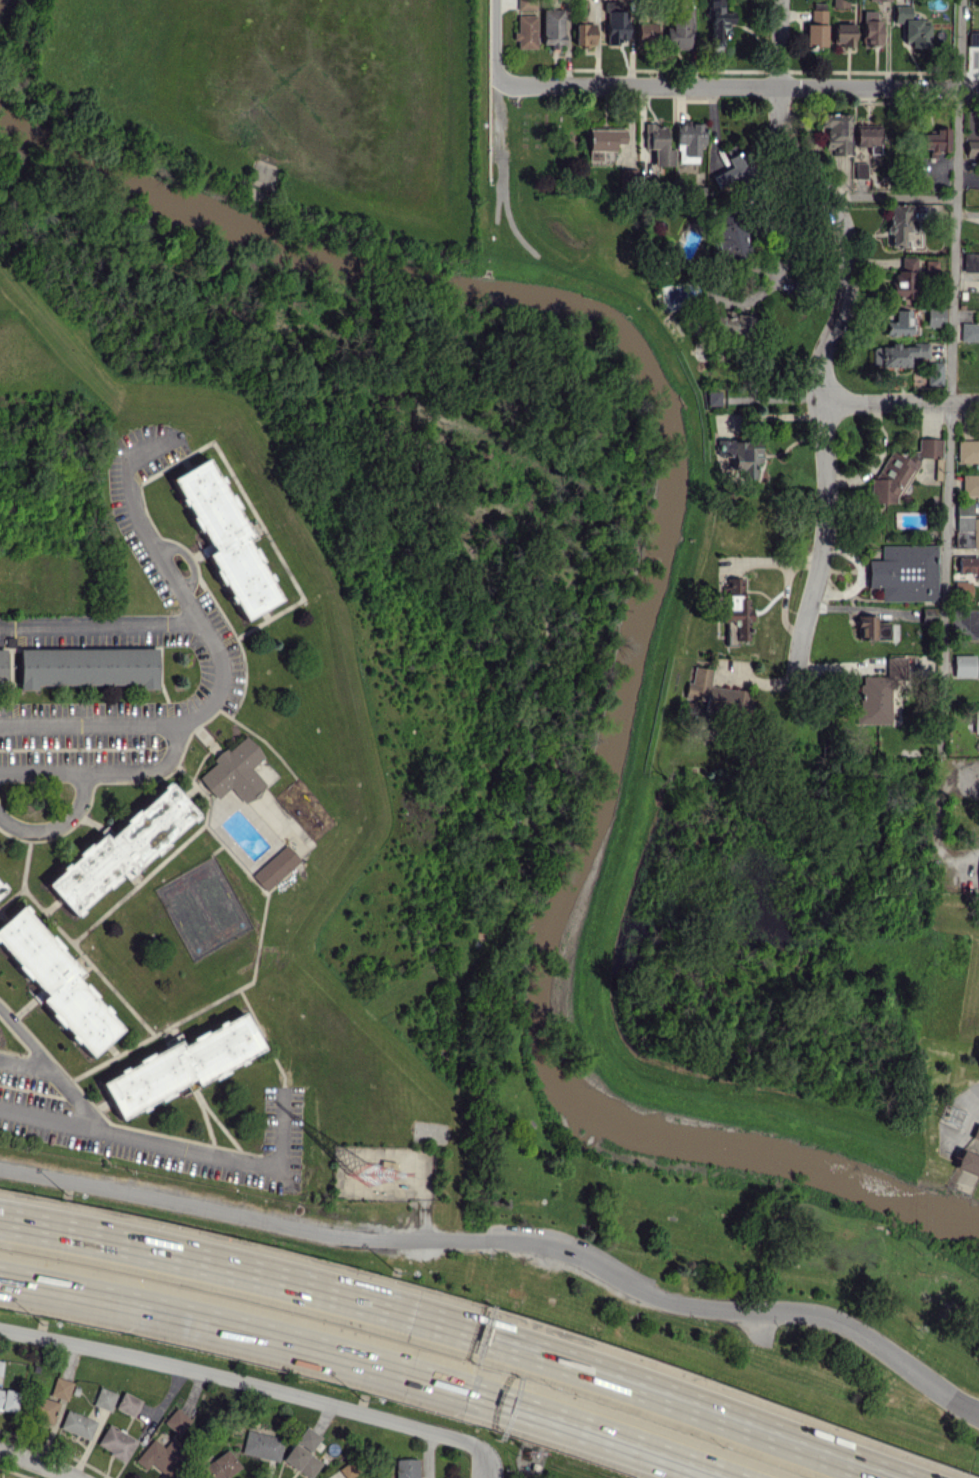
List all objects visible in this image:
building: (881, 0)
building: (526, 4)
building: (614, 21)
building: (717, 25)
building: (552, 27)
building: (911, 27)
building: (816, 28)
building: (871, 28)
building: (526, 31)
building: (645, 31)
building: (583, 33)
building: (677, 33)
building: (843, 33)
building: (973, 38)
road: (493, 41)
road: (739, 85)
road: (496, 113)
building: (835, 131)
building: (867, 138)
building: (935, 140)
building: (688, 141)
building: (658, 143)
building: (972, 147)
building: (734, 166)
building: (627, 176)
building: (900, 222)
road: (792, 256)
building: (970, 261)
building: (903, 279)
building: (935, 316)
building: (732, 322)
building: (898, 323)
building: (969, 331)
road: (828, 334)
building: (896, 353)
building: (711, 397)
road: (897, 401)
road: (949, 423)
building: (929, 447)
building: (967, 450)
building: (739, 456)
building: (892, 477)
building: (970, 484)
building: (963, 515)
building: (975, 533)
building: (224, 538)
building: (968, 565)
building: (904, 572)
road: (177, 584)
river: (648, 602)
building: (735, 619)
road: (101, 624)
building: (871, 628)
building: (2, 665)
building: (963, 665)
building: (86, 666)
building: (708, 690)
building: (879, 692)
building: (976, 720)
road: (89, 725)
building: (234, 771)
road: (105, 772)
road: (55, 821)
building: (120, 849)
road: (957, 854)
building: (275, 867)
building: (1, 889)
building: (56, 981)
park: (505, 1036)
road: (25, 1061)
building: (180, 1065)
road: (54, 1069)
road: (969, 1095)
road: (281, 1129)
building: (975, 1131)
road: (138, 1137)
building: (966, 1162)
building: (386, 1170)
road: (195, 1208)
road: (243, 1269)
road: (692, 1305)
road: (243, 1331)
building: (1, 1366)
road: (243, 1382)
building: (61, 1388)
building: (104, 1398)
building: (8, 1399)
building: (128, 1404)
road: (686, 1404)
building: (45, 1410)
building: (176, 1420)
building: (77, 1424)
road: (600, 1436)
building: (308, 1439)
building: (116, 1442)
building: (262, 1445)
road: (428, 1454)
building: (162, 1456)
building: (301, 1460)
road: (37, 1461)
road: (485, 1463)
building: (221, 1465)
building: (406, 1468)
building: (348, 1470)

